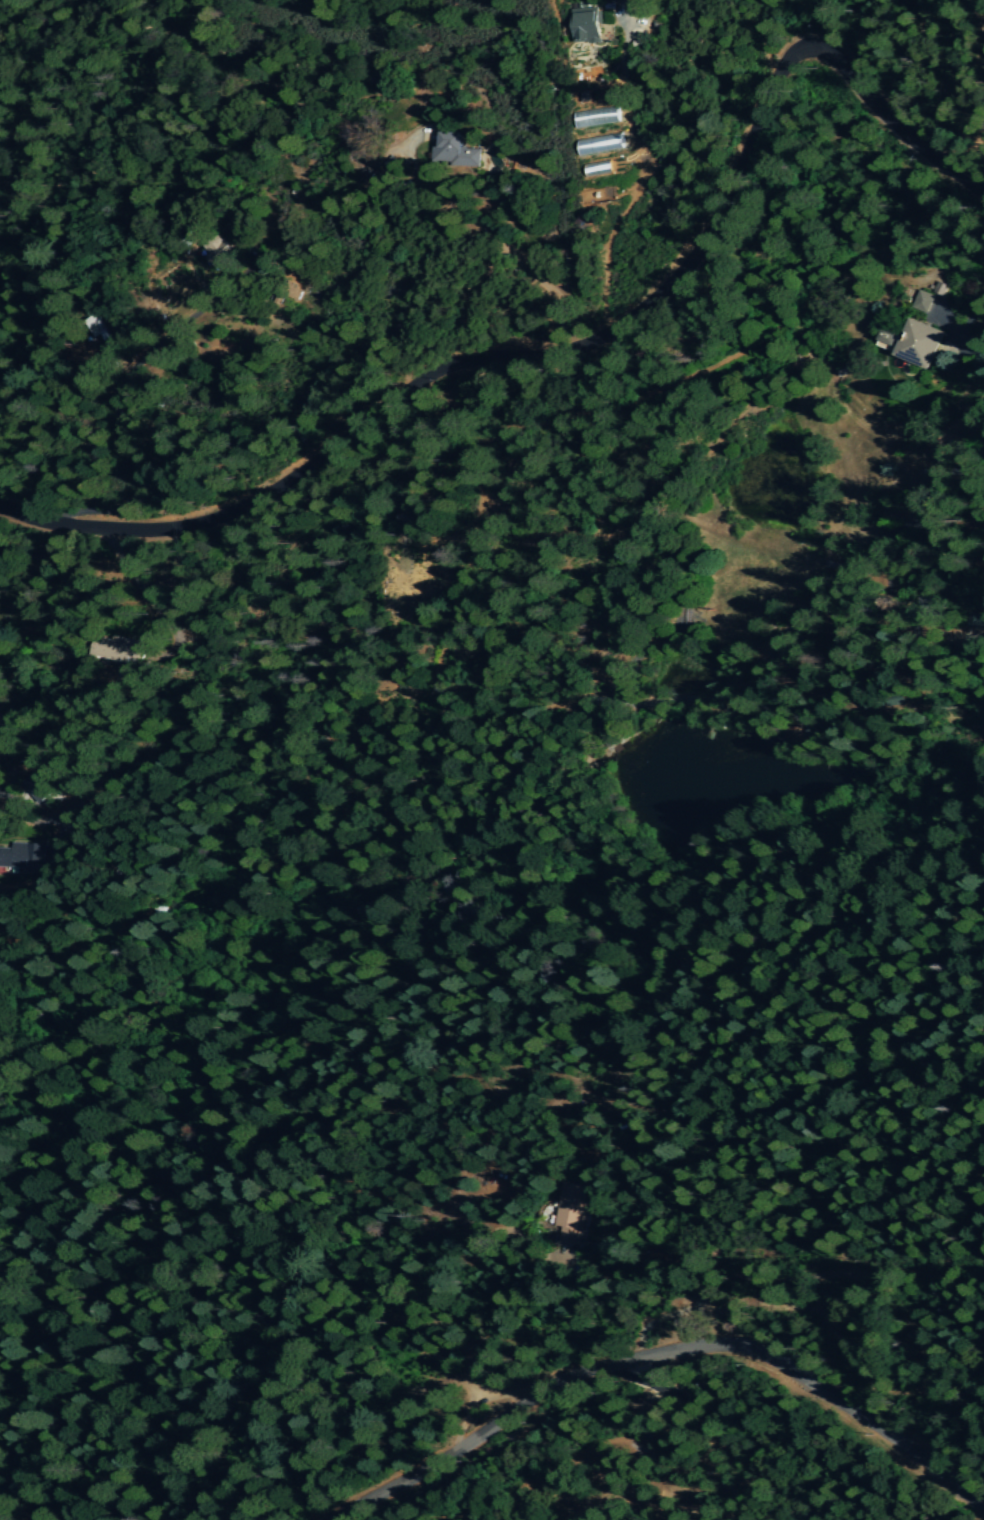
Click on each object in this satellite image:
building: (587, 24)
building: (596, 117)
building: (600, 144)
building: (452, 151)
building: (938, 289)
building: (916, 344)
road: (568, 346)
building: (118, 649)
building: (22, 857)
building: (570, 1212)
road: (476, 1334)
road: (658, 1352)

